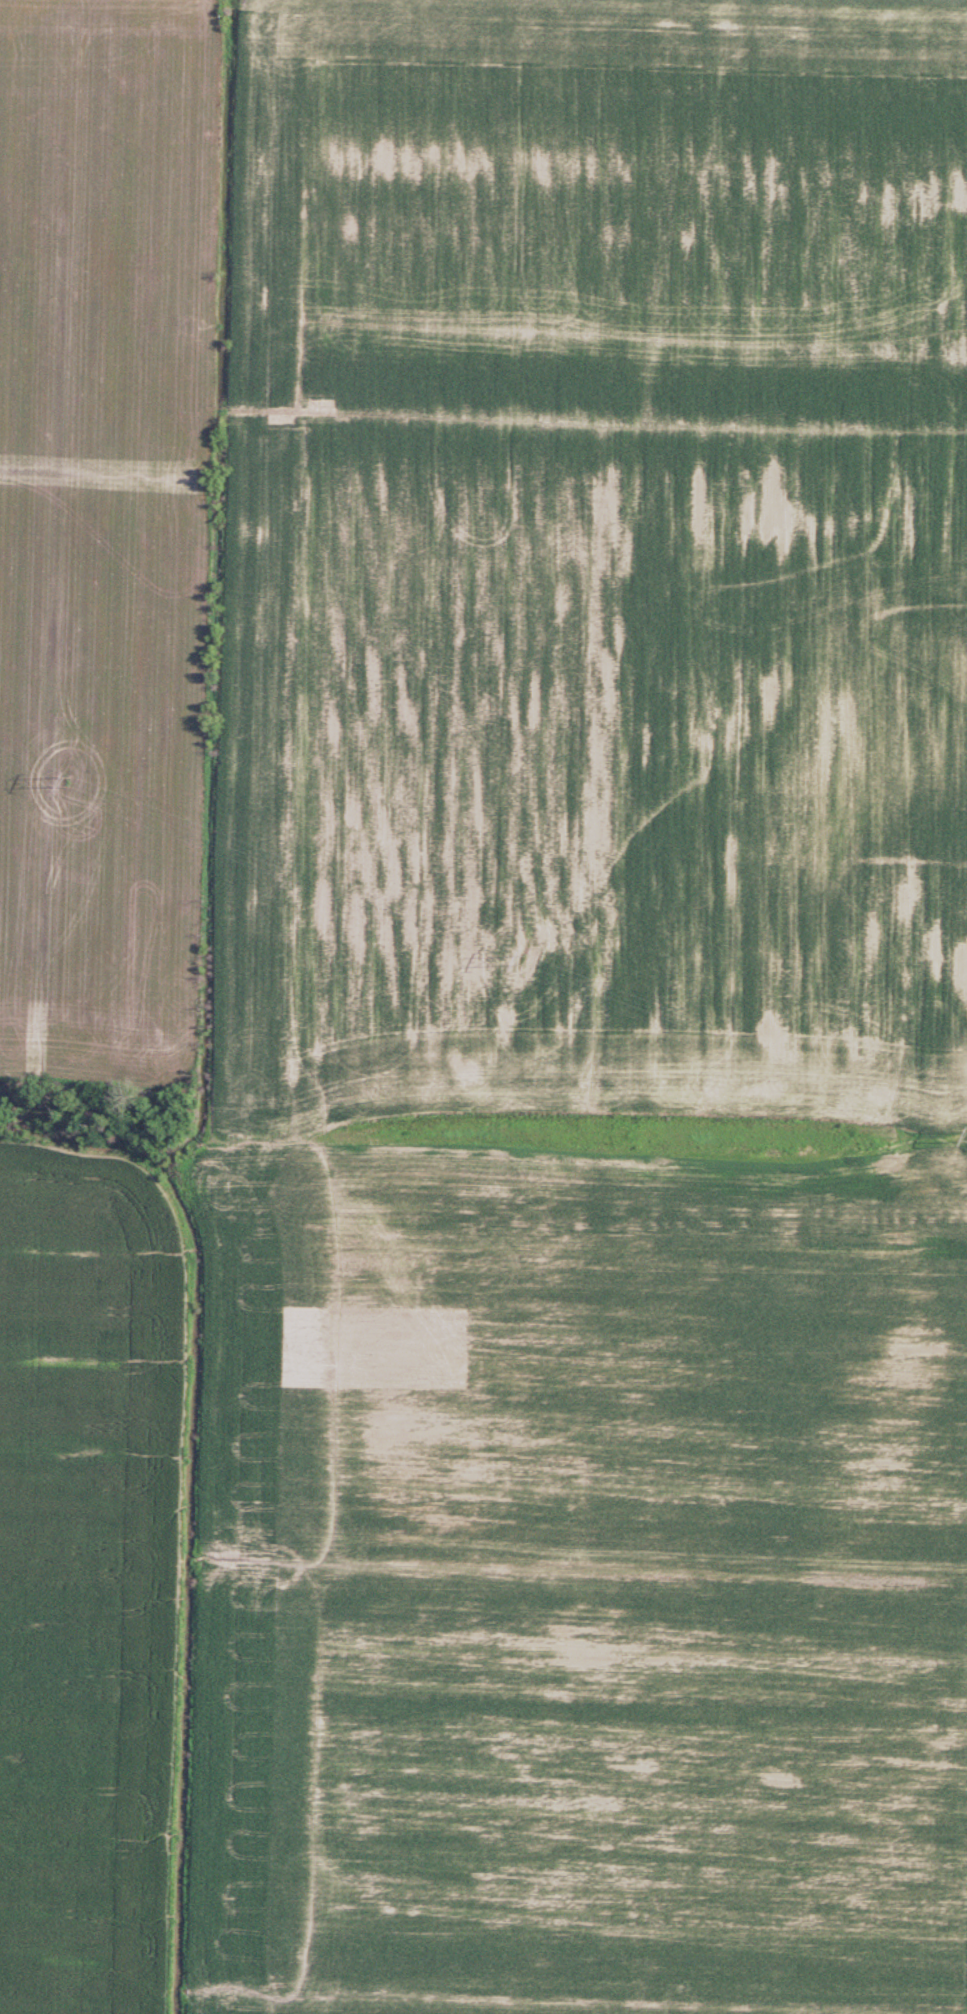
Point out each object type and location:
power tower: (50, 775)
power tower: (503, 959)
power tower: (955, 1139)

